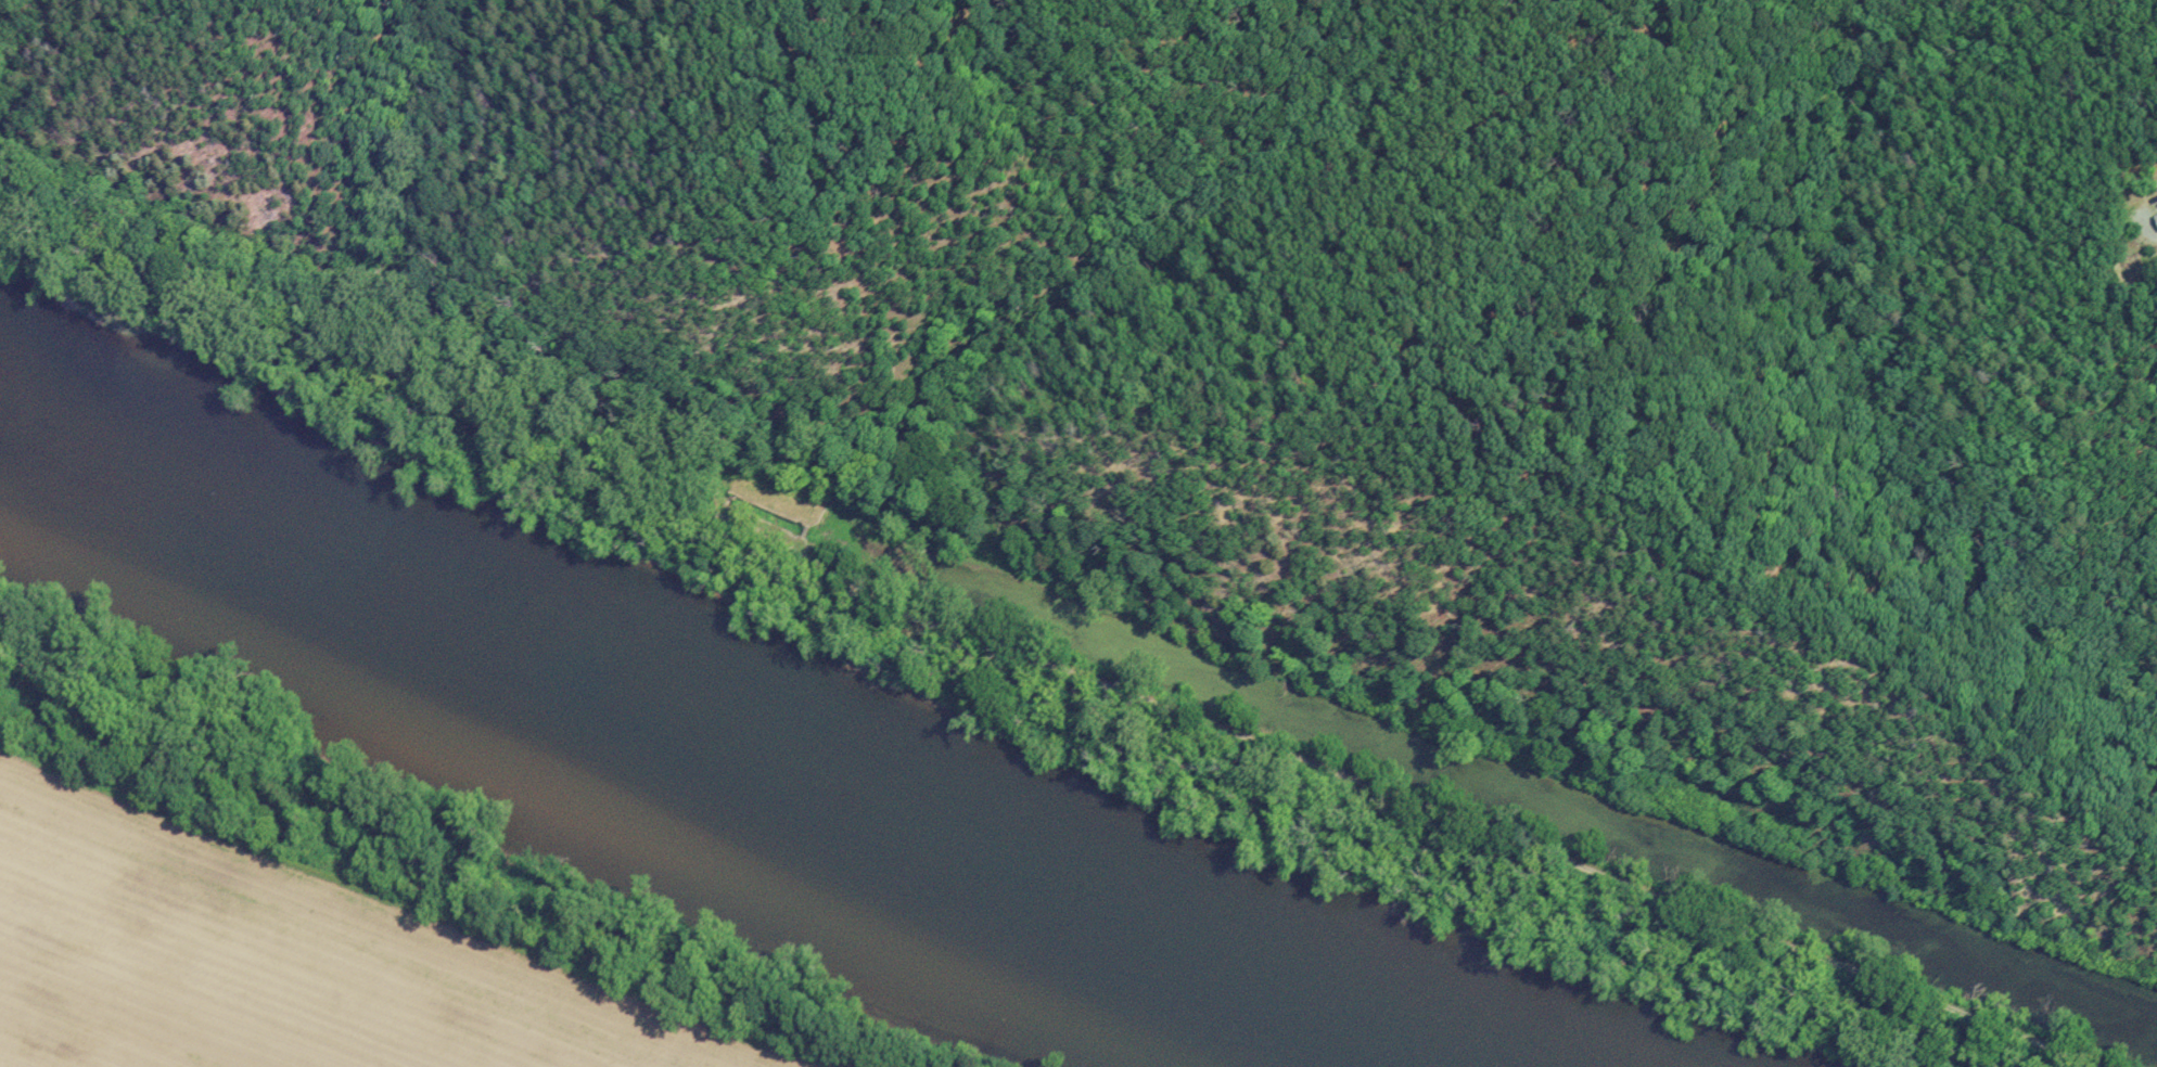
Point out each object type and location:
road: (2155, 235)
road: (525, 303)
road: (803, 532)
road: (799, 545)
road: (1035, 661)
river: (712, 731)

